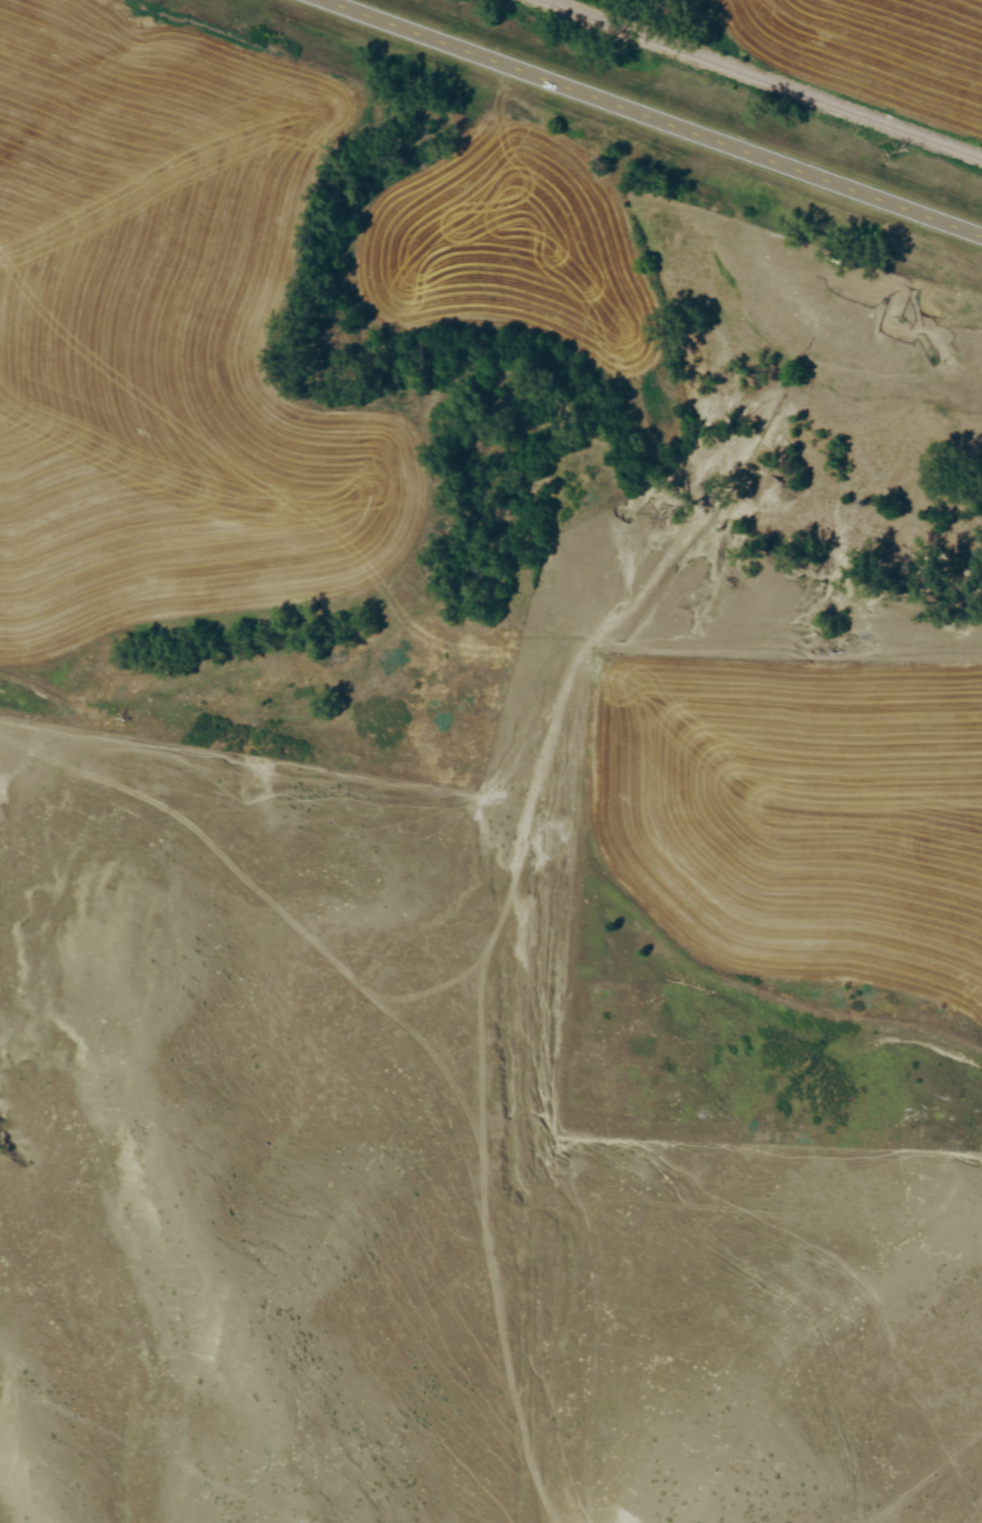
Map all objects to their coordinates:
railway: (763, 78)
road: (652, 117)
crop: (170, 340)
crop: (801, 817)

